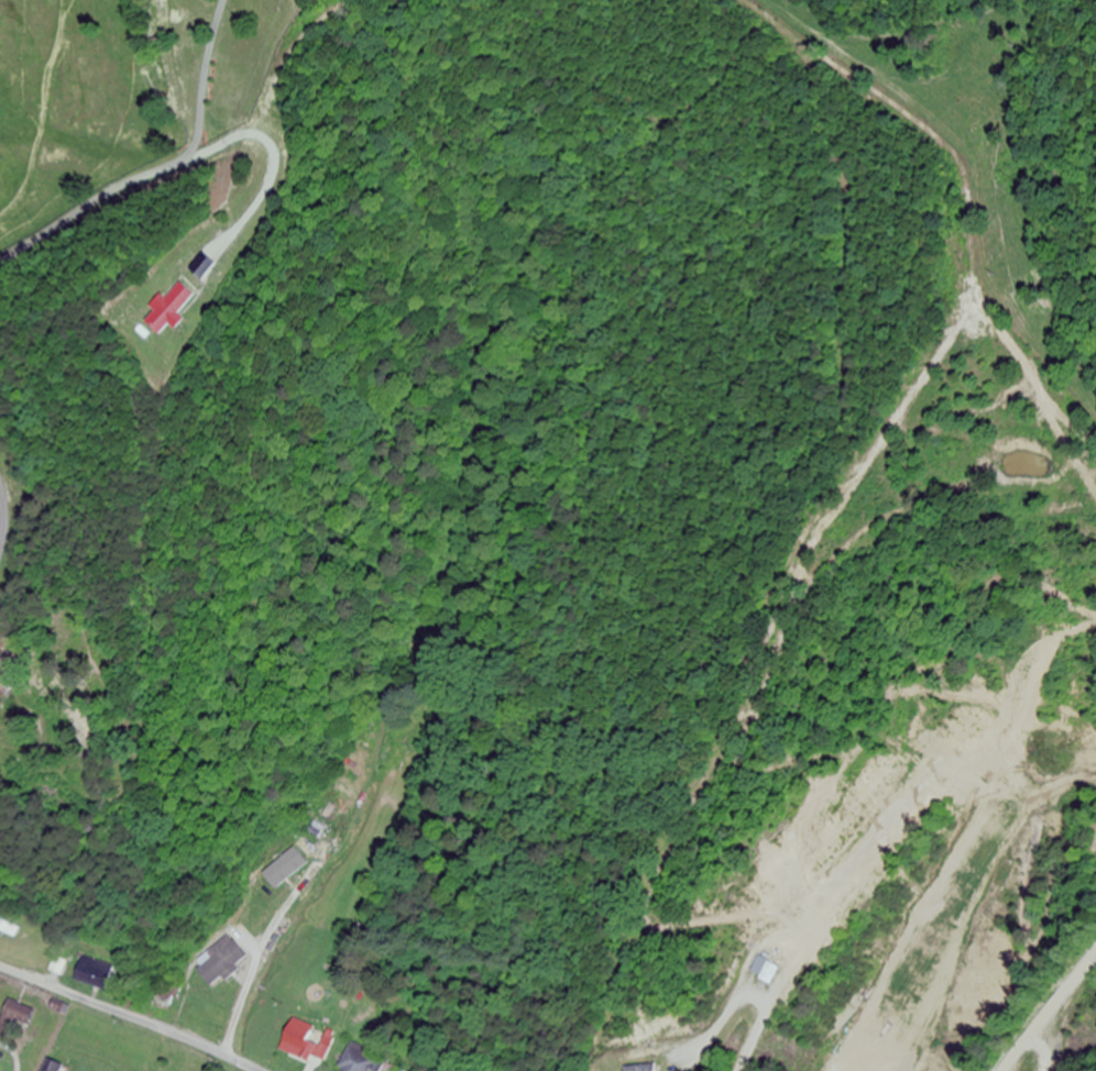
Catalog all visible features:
building: (177, 309)
building: (278, 879)
building: (9, 930)
building: (221, 964)
building: (95, 974)
building: (771, 975)
road: (127, 1017)
building: (17, 1020)
building: (304, 1044)
building: (364, 1062)
building: (53, 1067)
building: (643, 1069)

